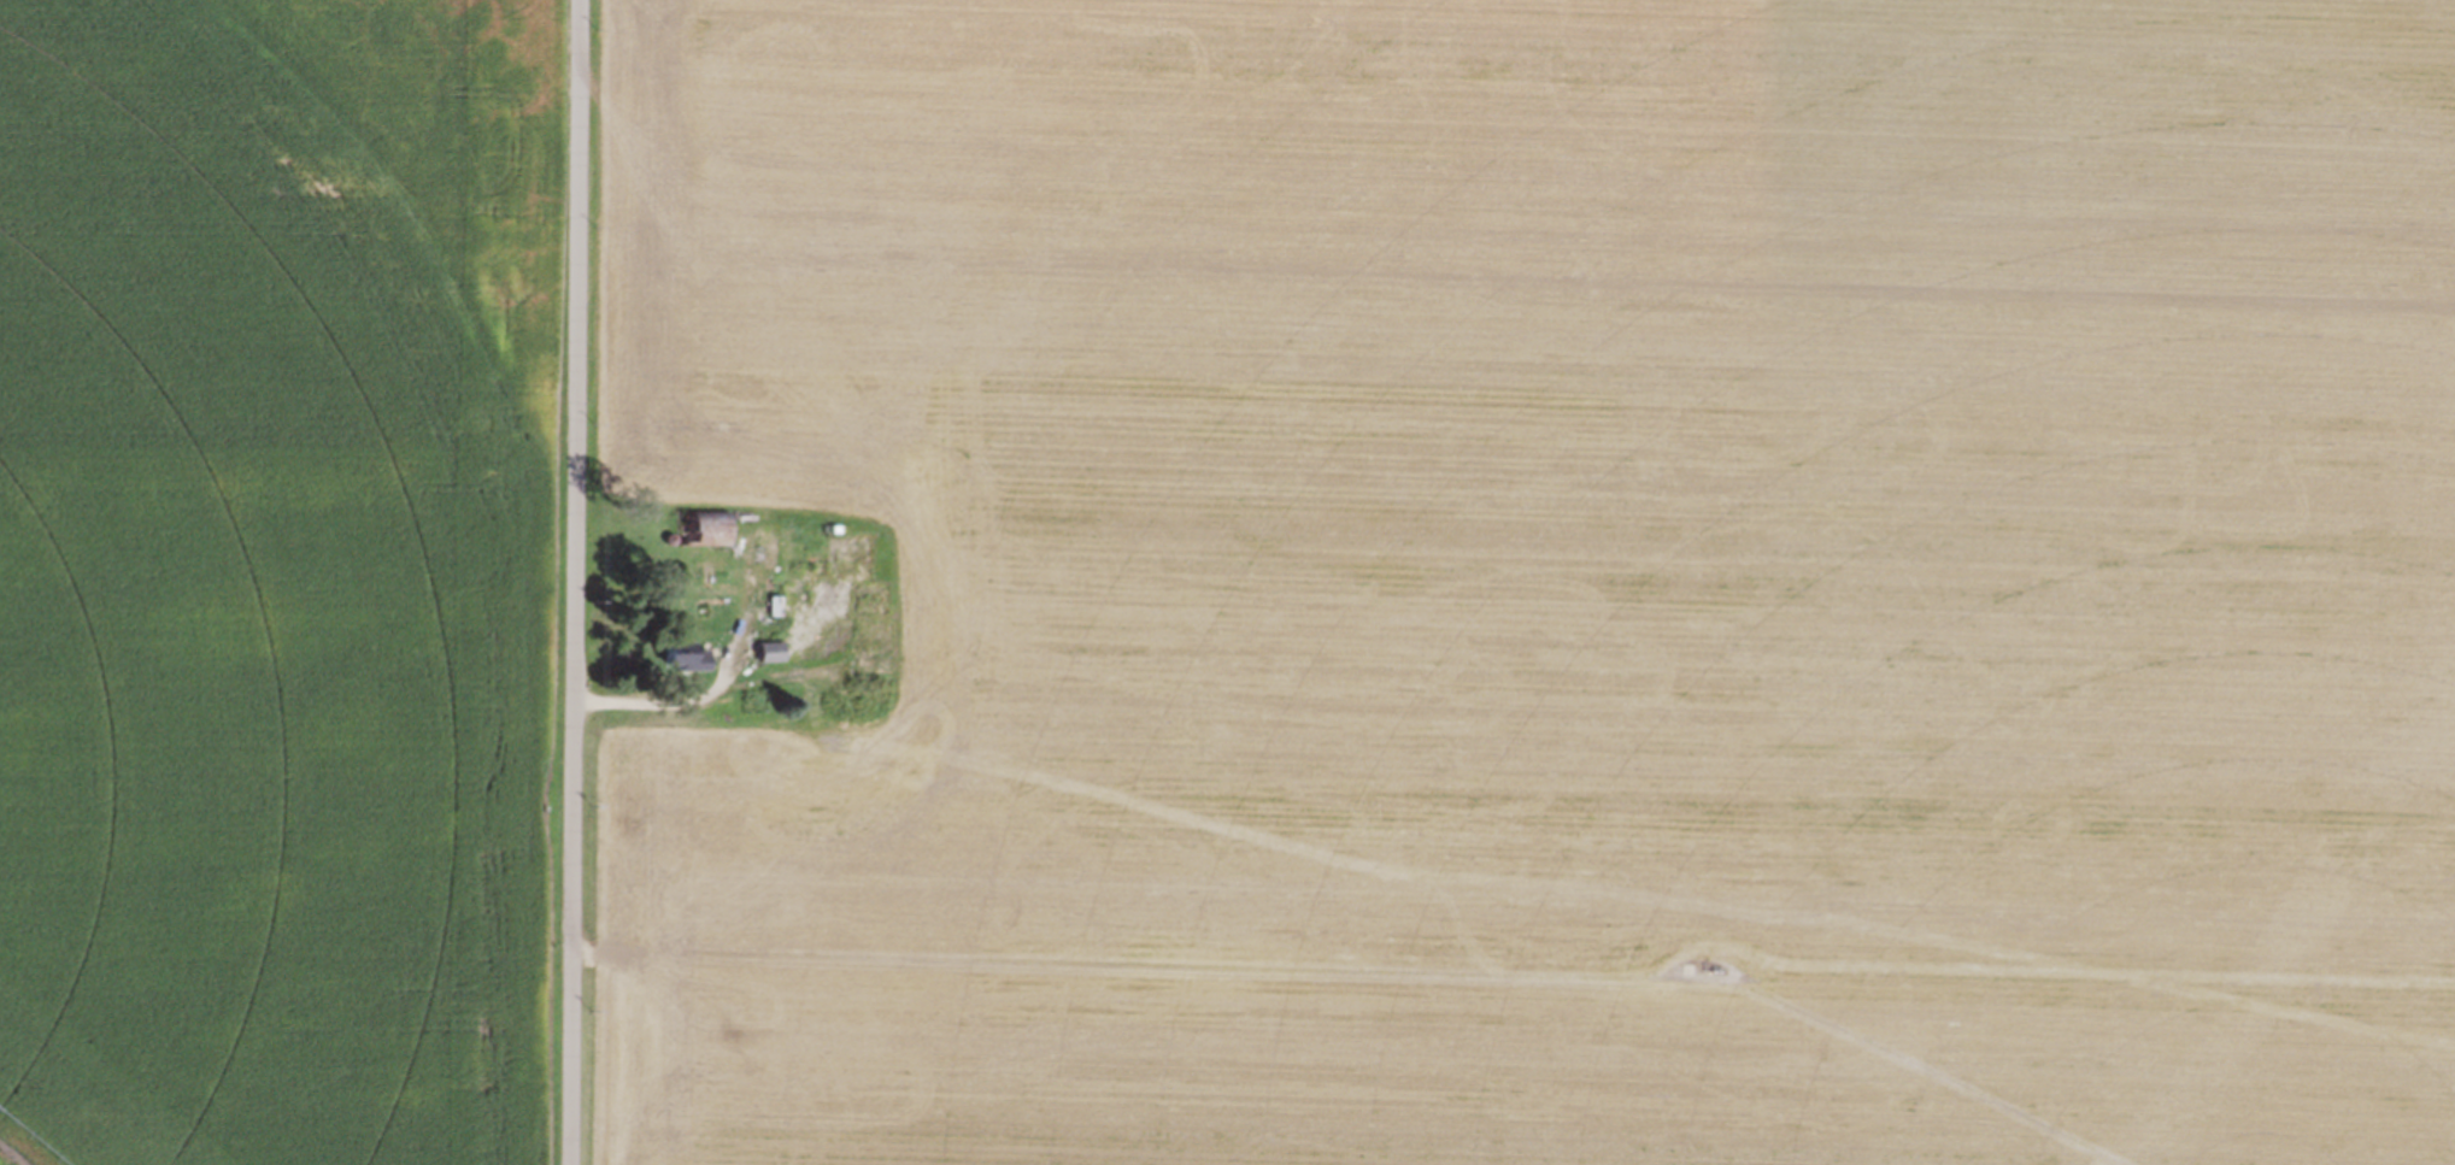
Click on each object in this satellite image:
building: (698, 526)
building: (803, 567)
building: (706, 569)
road: (572, 582)
building: (864, 583)
building: (834, 641)
building: (767, 651)
building: (670, 653)
building: (869, 661)
road: (712, 690)
building: (812, 698)

